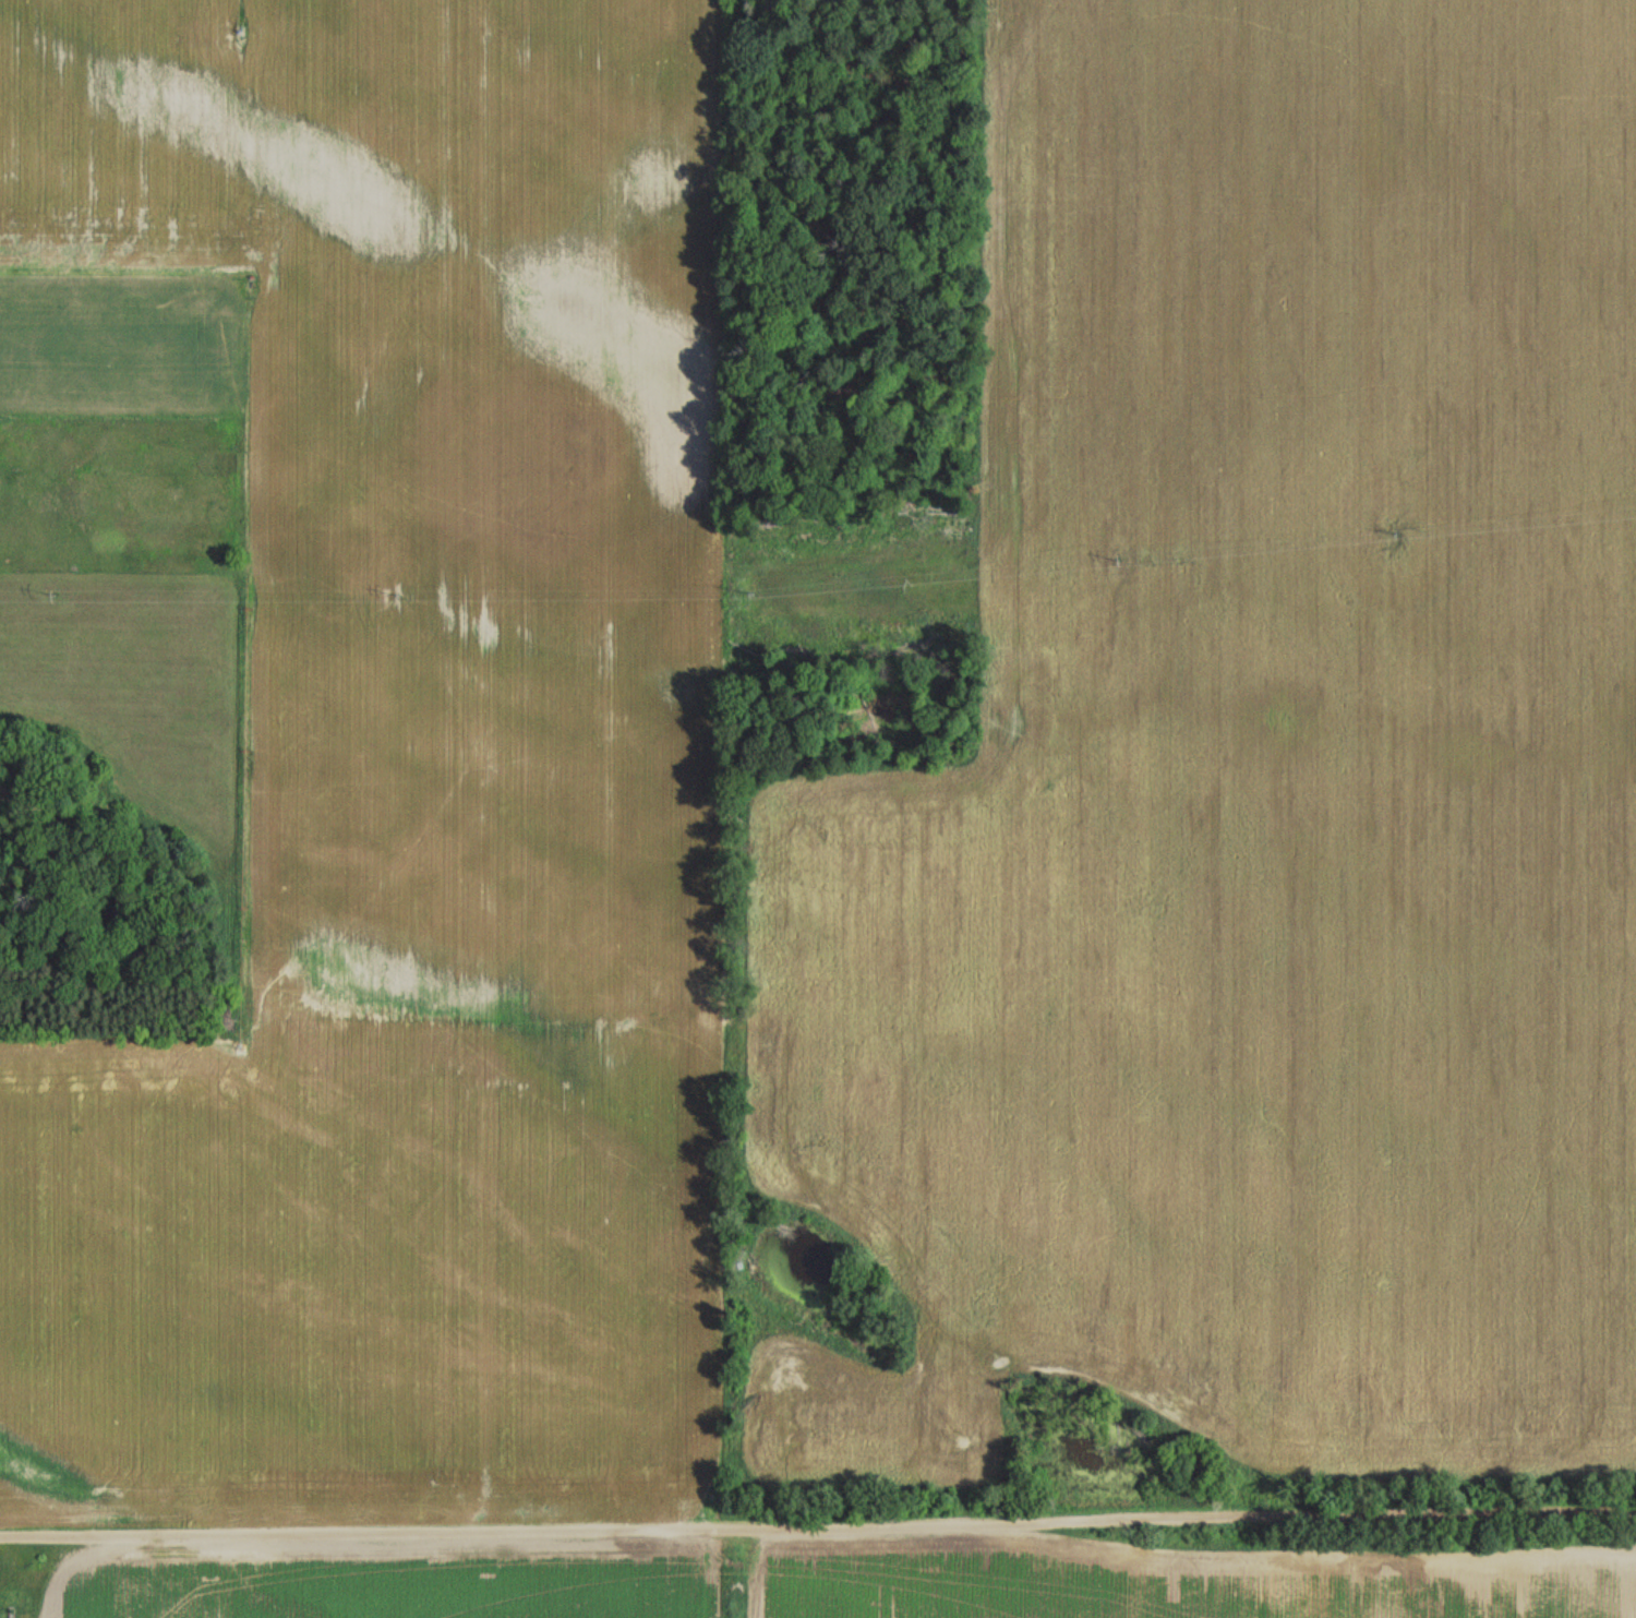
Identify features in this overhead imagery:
power tower: (1386, 532)
power tower: (1120, 560)
power tower: (59, 596)
power tower: (743, 597)
power tower: (393, 598)
road: (818, 1524)

